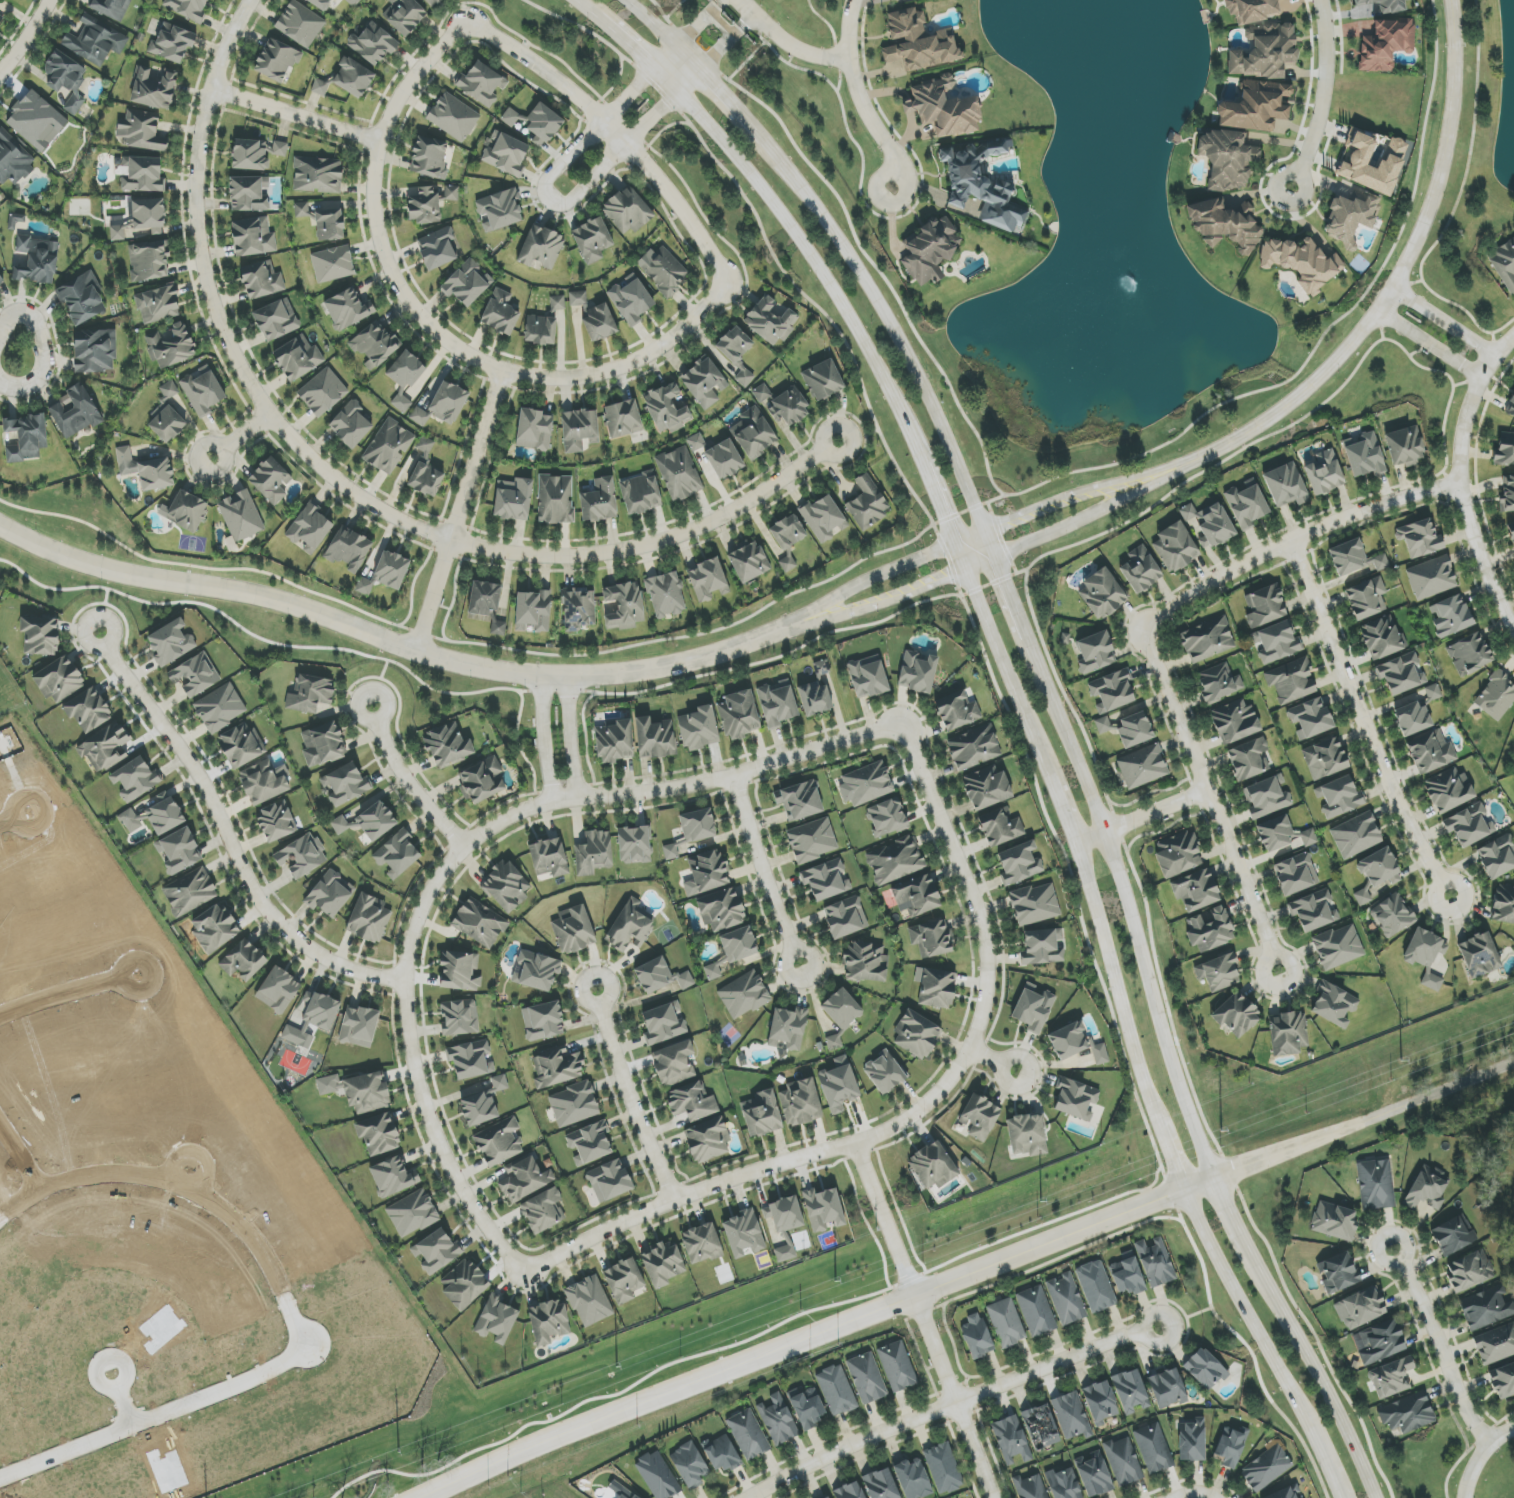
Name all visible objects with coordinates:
building: (0, 2)
building: (353, 2)
building: (430, 2)
road: (716, 2)
road: (585, 5)
building: (1382, 6)
building: (112, 8)
building: (187, 9)
building: (1254, 9)
building: (404, 15)
road: (664, 19)
road: (746, 20)
road: (719, 23)
building: (300, 24)
road: (828, 24)
road: (662, 33)
road: (25, 38)
building: (172, 42)
building: (918, 42)
building: (95, 43)
building: (374, 45)
building: (1385, 45)
road: (637, 49)
building: (1264, 51)
road: (812, 53)
building: (277, 60)
road: (839, 73)
building: (66, 79)
building: (348, 79)
building: (482, 84)
road: (612, 86)
building: (153, 89)
road: (1319, 96)
road: (731, 106)
building: (944, 107)
building: (1255, 107)
road: (841, 108)
road: (297, 116)
building: (453, 117)
road: (870, 118)
road: (886, 120)
building: (36, 121)
building: (537, 123)
building: (141, 131)
building: (505, 153)
road: (1469, 153)
building: (254, 154)
building: (429, 158)
building: (1227, 159)
building: (13, 162)
building: (1353, 163)
building: (141, 174)
building: (318, 175)
road: (906, 185)
building: (981, 185)
building: (451, 193)
building: (248, 194)
road: (550, 199)
building: (424, 206)
building: (628, 210)
building: (499, 211)
building: (1352, 214)
building: (142, 220)
building: (1224, 226)
building: (253, 237)
building: (592, 240)
road: (768, 245)
building: (437, 248)
building: (541, 248)
building: (929, 250)
building: (37, 260)
building: (148, 261)
building: (1302, 263)
building: (333, 264)
building: (1504, 264)
road: (815, 267)
building: (663, 270)
building: (0, 278)
fountain: (1126, 279)
building: (261, 281)
building: (466, 283)
building: (578, 298)
building: (631, 298)
building: (81, 299)
road: (1387, 302)
building: (158, 305)
building: (346, 309)
building: (500, 313)
building: (275, 321)
building: (770, 321)
road: (1447, 321)
building: (599, 323)
building: (375, 344)
road: (1431, 344)
building: (171, 346)
road: (44, 350)
building: (95, 351)
building: (737, 353)
building: (297, 358)
road: (911, 361)
road: (601, 371)
building: (404, 378)
building: (823, 380)
building: (704, 382)
building: (202, 391)
building: (323, 392)
building: (762, 393)
building: (443, 405)
building: (668, 407)
building: (1510, 407)
building: (789, 408)
building: (74, 412)
building: (167, 414)
building: (623, 419)
building: (351, 425)
building: (534, 430)
building: (579, 430)
building: (754, 433)
road: (243, 434)
road: (866, 434)
building: (26, 437)
building: (696, 442)
building: (389, 447)
building: (1405, 447)
building: (1505, 449)
road: (831, 455)
building: (1364, 455)
building: (724, 459)
road: (1227, 459)
building: (146, 470)
building: (426, 471)
road: (342, 472)
building: (1324, 473)
building: (679, 474)
road: (928, 477)
road: (1461, 479)
building: (270, 481)
building: (1286, 485)
building: (641, 493)
building: (1507, 494)
building: (556, 499)
building: (513, 500)
building: (599, 501)
road: (1060, 502)
building: (868, 503)
building: (1247, 504)
building: (185, 511)
road: (462, 511)
building: (240, 518)
building: (824, 518)
road: (1066, 521)
road: (961, 525)
building: (1209, 525)
building: (309, 529)
building: (1511, 531)
building: (1420, 538)
building: (788, 539)
road: (1293, 542)
building: (1176, 547)
building: (349, 549)
road: (928, 558)
building: (1355, 559)
building: (749, 561)
road: (854, 566)
building: (1141, 570)
road: (989, 572)
building: (387, 573)
building: (1431, 578)
building: (708, 580)
road: (983, 586)
building: (1102, 594)
building: (666, 595)
road: (841, 599)
building: (1366, 599)
road: (282, 601)
road: (876, 603)
building: (624, 606)
building: (1265, 606)
building: (578, 609)
road: (103, 610)
building: (533, 612)
building: (1450, 616)
road: (993, 634)
building: (40, 635)
building: (1382, 637)
building: (1207, 640)
road: (266, 641)
building: (1276, 642)
building: (171, 643)
road: (1034, 650)
building: (1095, 653)
building: (1469, 654)
road: (769, 661)
road: (676, 662)
building: (917, 672)
building: (1400, 673)
building: (195, 675)
building: (868, 677)
building: (59, 680)
building: (1291, 681)
road: (378, 682)
road: (358, 683)
building: (1218, 683)
building: (1112, 691)
road: (554, 692)
building: (819, 692)
building: (1433, 692)
building: (310, 694)
building: (1496, 697)
building: (778, 704)
building: (220, 708)
building: (88, 710)
building: (957, 711)
building: (739, 715)
building: (1311, 718)
building: (1412, 718)
building: (1235, 721)
road: (1364, 721)
building: (1103, 725)
building: (699, 728)
building: (1134, 730)
road: (572, 735)
road: (1084, 736)
road: (546, 737)
road: (584, 738)
building: (655, 738)
building: (615, 741)
road: (517, 744)
building: (323, 745)
building: (447, 745)
building: (239, 746)
building: (974, 747)
building: (105, 748)
building: (1431, 752)
building: (1249, 759)
building: (1325, 759)
building: (1143, 766)
building: (134, 779)
road: (405, 781)
building: (483, 781)
building: (262, 783)
building: (345, 784)
building: (866, 784)
road: (738, 788)
building: (987, 788)
building: (1448, 791)
road: (621, 792)
building: (1339, 797)
building: (1266, 798)
building: (799, 800)
road: (1210, 801)
road: (1065, 812)
building: (155, 816)
road: (957, 816)
road: (13, 817)
building: (886, 817)
road: (1143, 818)
building: (276, 822)
building: (368, 822)
building: (1468, 825)
building: (698, 826)
building: (1000, 827)
building: (1282, 834)
road: (229, 835)
building: (1356, 835)
building: (812, 840)
building: (634, 845)
building: (179, 851)
building: (670, 852)
building: (593, 853)
building: (1178, 854)
building: (397, 855)
building: (301, 856)
building: (1497, 857)
building: (549, 858)
building: (896, 860)
building: (1019, 863)
road: (767, 870)
road: (1071, 870)
building: (707, 873)
building: (1376, 873)
building: (1296, 874)
building: (826, 880)
road: (967, 884)
building: (506, 886)
building: (1196, 890)
building: (190, 892)
building: (916, 897)
building: (1035, 904)
building: (1503, 905)
building: (722, 910)
building: (1314, 910)
building: (1392, 915)
building: (846, 917)
building: (369, 919)
building: (631, 927)
building: (215, 928)
building: (573, 930)
building: (1210, 930)
road: (1139, 936)
building: (931, 938)
building: (739, 944)
building: (1338, 947)
building: (1042, 948)
building: (1479, 955)
building: (1425, 956)
building: (243, 961)
building: (866, 962)
building: (536, 970)
building: (714, 970)
building: (460, 971)
building: (1218, 973)
building: (654, 975)
building: (685, 980)
road: (342, 984)
road: (1121, 987)
building: (937, 988)
building: (278, 990)
road: (67, 993)
building: (744, 995)
building: (1334, 1004)
building: (1033, 1010)
building: (313, 1015)
building: (1236, 1015)
building: (459, 1018)
building: (543, 1021)
building: (662, 1025)
building: (359, 1026)
building: (788, 1029)
building: (1288, 1033)
building: (916, 1035)
road: (598, 1040)
building: (1070, 1040)
building: (1100, 1054)
building: (471, 1059)
power tower: (1400, 1060)
road: (994, 1061)
building: (674, 1063)
building: (557, 1067)
building: (885, 1073)
road: (1042, 1083)
building: (839, 1085)
building: (359, 1091)
road: (630, 1095)
building: (1076, 1100)
building: (692, 1102)
building: (802, 1102)
building: (483, 1103)
building: (574, 1104)
building: (762, 1114)
road: (430, 1116)
building: (980, 1117)
building: (379, 1134)
power tower: (1224, 1134)
building: (1027, 1135)
building: (708, 1140)
building: (499, 1142)
building: (590, 1143)
road: (862, 1158)
road: (1175, 1160)
building: (933, 1166)
road: (756, 1170)
building: (393, 1177)
building: (525, 1179)
building: (610, 1181)
road: (172, 1185)
building: (1375, 1185)
road: (669, 1189)
building: (1426, 1192)
road: (19, 1201)
power tower: (1042, 1204)
building: (823, 1209)
road: (1176, 1209)
building: (543, 1211)
building: (412, 1213)
building: (784, 1214)
road: (1232, 1218)
building: (1334, 1221)
road: (885, 1222)
building: (743, 1234)
road: (1191, 1237)
building: (1451, 1237)
building: (702, 1243)
building: (785, 1250)
building: (436, 1251)
building: (1156, 1263)
building: (663, 1264)
building: (1467, 1272)
building: (1338, 1273)
building: (1127, 1275)
road: (967, 1278)
building: (624, 1281)
power tower: (835, 1284)
building: (464, 1285)
building: (1096, 1287)
building: (1066, 1299)
building: (589, 1301)
road: (1177, 1308)
building: (1362, 1308)
building: (1486, 1308)
building: (1036, 1311)
road: (1198, 1314)
building: (496, 1319)
building: (548, 1322)
building: (1006, 1323)
road: (1258, 1326)
building: (977, 1336)
building: (1381, 1342)
road: (1441, 1344)
building: (1495, 1344)
road: (307, 1347)
building: (897, 1366)
building: (1205, 1368)
power tower: (617, 1370)
road: (1317, 1374)
building: (867, 1378)
building: (1392, 1378)
building: (1503, 1381)
road: (964, 1382)
road: (965, 1385)
road: (949, 1388)
building: (1168, 1388)
building: (837, 1390)
building: (1131, 1391)
road: (970, 1396)
road: (954, 1399)
road: (123, 1400)
building: (1100, 1402)
road: (950, 1405)
building: (807, 1407)
road: (975, 1408)
road: (941, 1409)
road: (973, 1412)
building: (1407, 1414)
building: (1072, 1416)
road: (961, 1417)
road: (151, 1418)
building: (778, 1420)
building: (1041, 1427)
road: (1512, 1430)
building: (749, 1434)
building: (1011, 1440)
road: (829, 1441)
building: (1192, 1441)
building: (1229, 1447)
building: (1154, 1449)
power tower: (399, 1454)
building: (721, 1454)
road: (1480, 1455)
road: (865, 1457)
road: (960, 1457)
building: (1124, 1461)
building: (690, 1465)
building: (943, 1468)
building: (1267, 1468)
building: (1094, 1475)
building: (658, 1476)
building: (913, 1478)
road: (1191, 1479)
road: (1336, 1479)
building: (1064, 1484)
building: (881, 1485)
building: (1030, 1487)
building: (849, 1491)
building: (625, 1493)
road: (1195, 1494)
building: (1284, 1494)
building: (826, 1496)
road: (1212, 1497)

